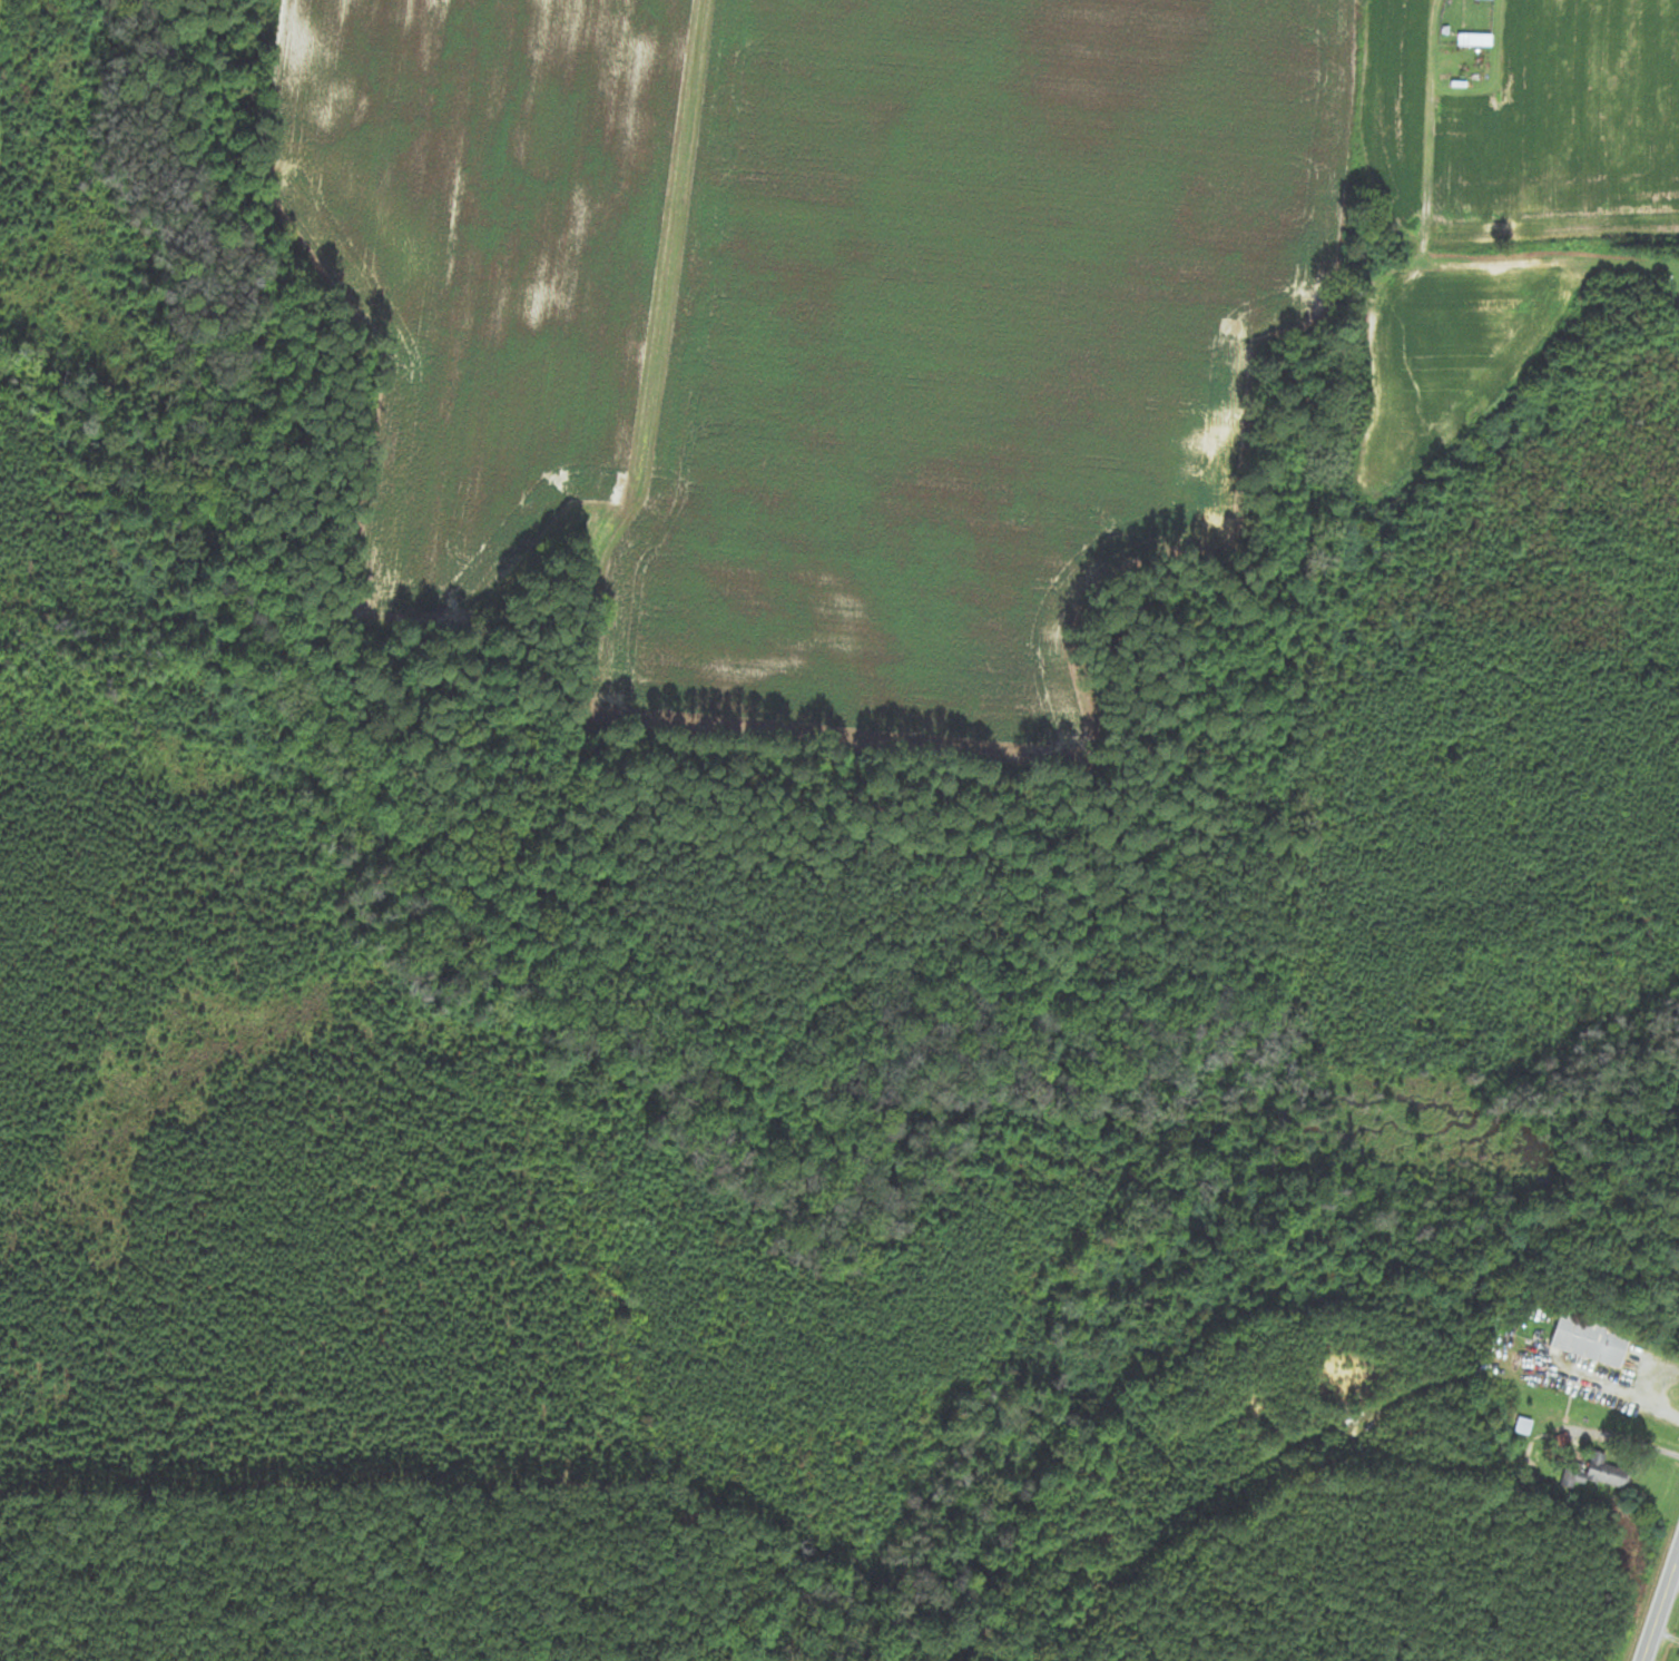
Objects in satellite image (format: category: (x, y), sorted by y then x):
building: (1486, 0)
building: (1668, 1274)
building: (1591, 1341)
building: (1595, 1476)
road: (1661, 1608)

